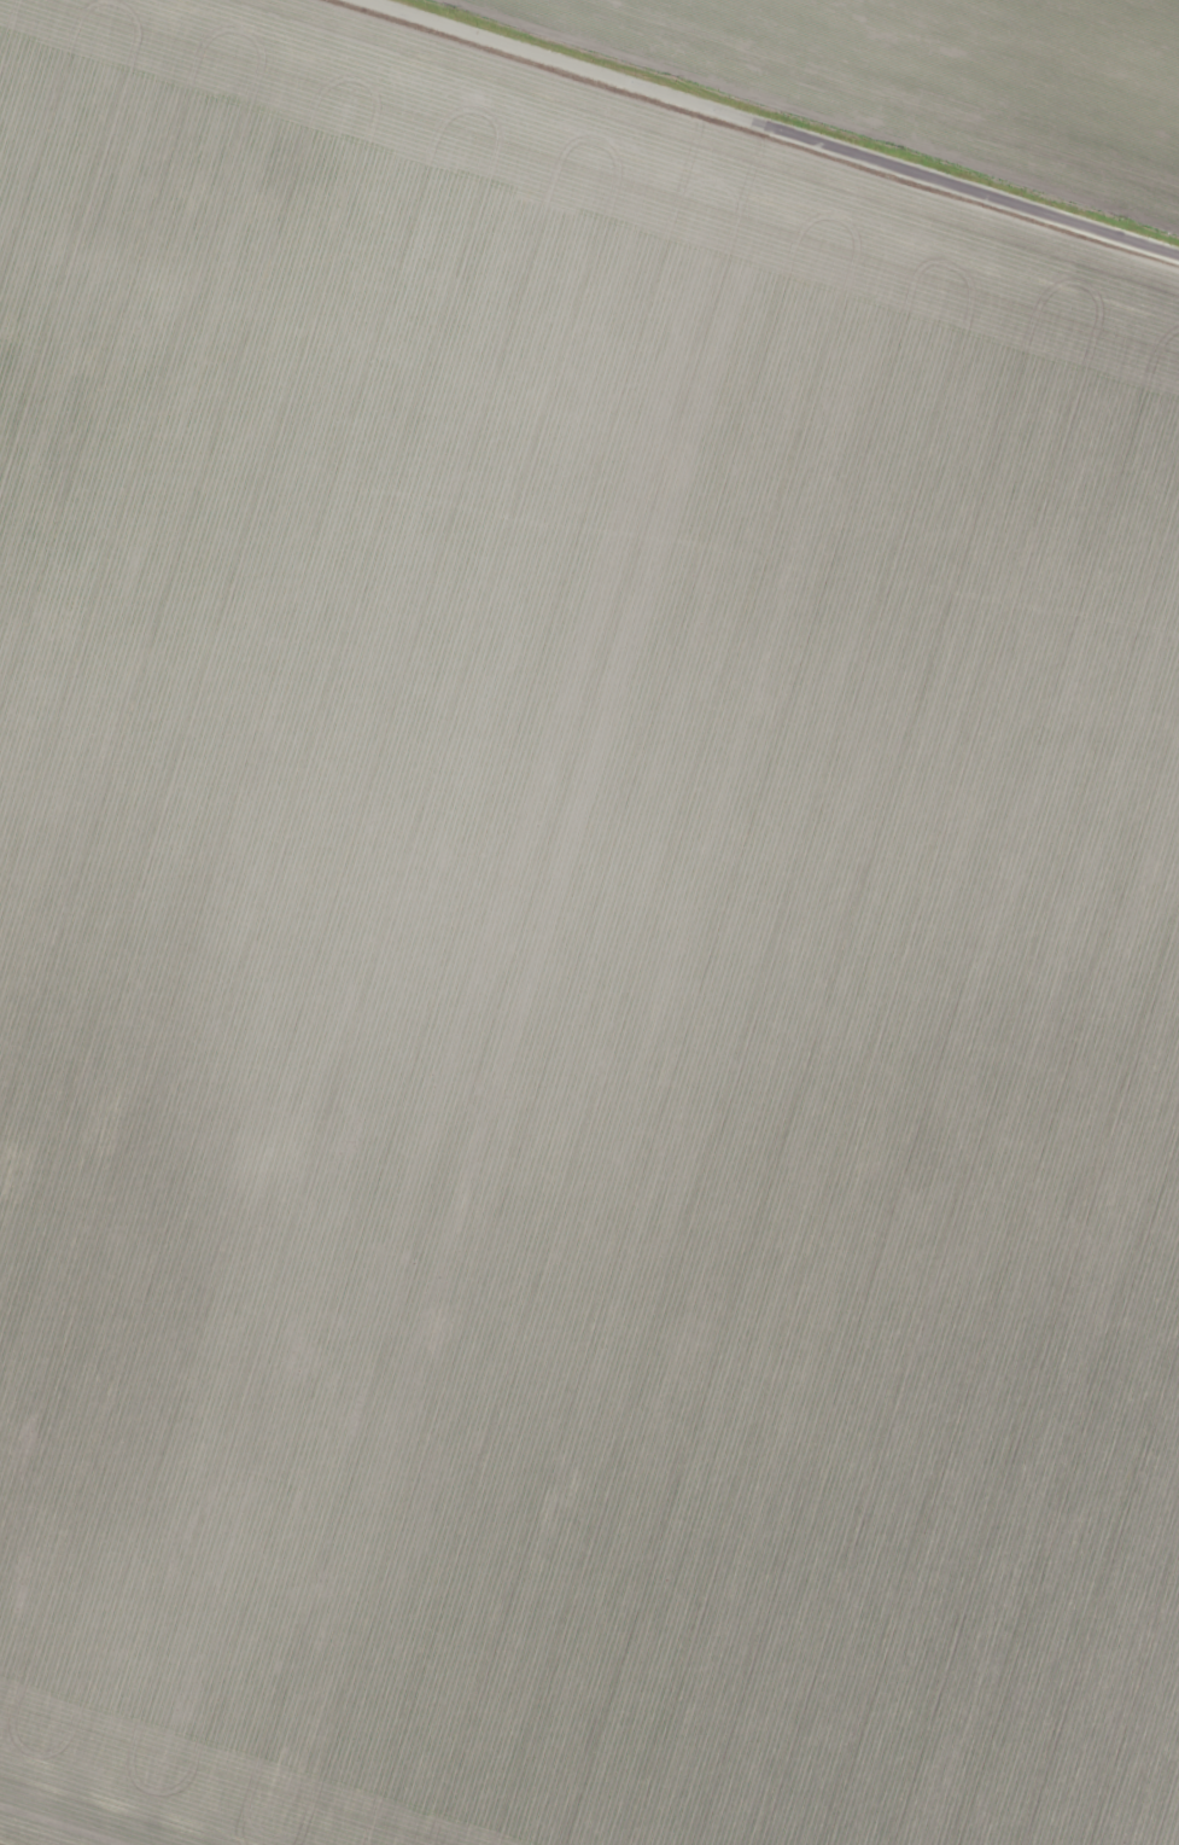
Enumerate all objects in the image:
road: (804, 118)

